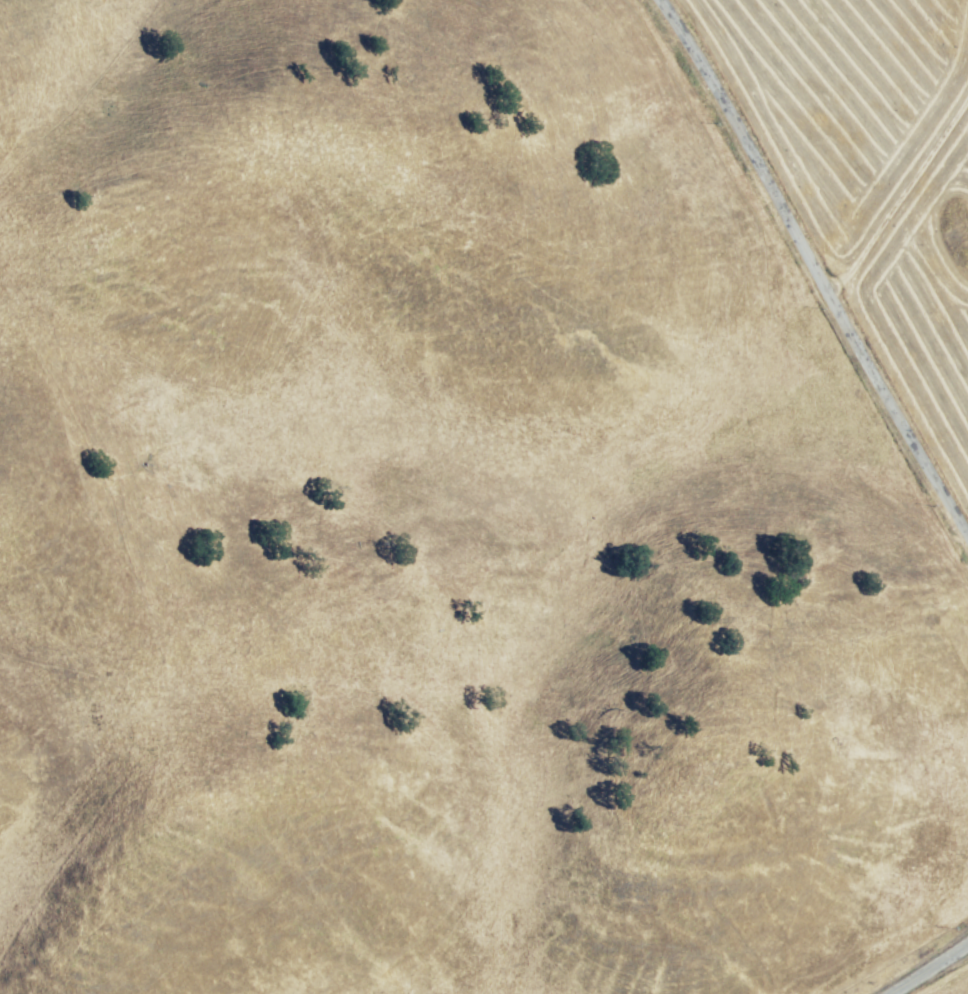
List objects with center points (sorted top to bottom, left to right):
crop: (878, 164)
road: (807, 282)
road: (921, 966)

